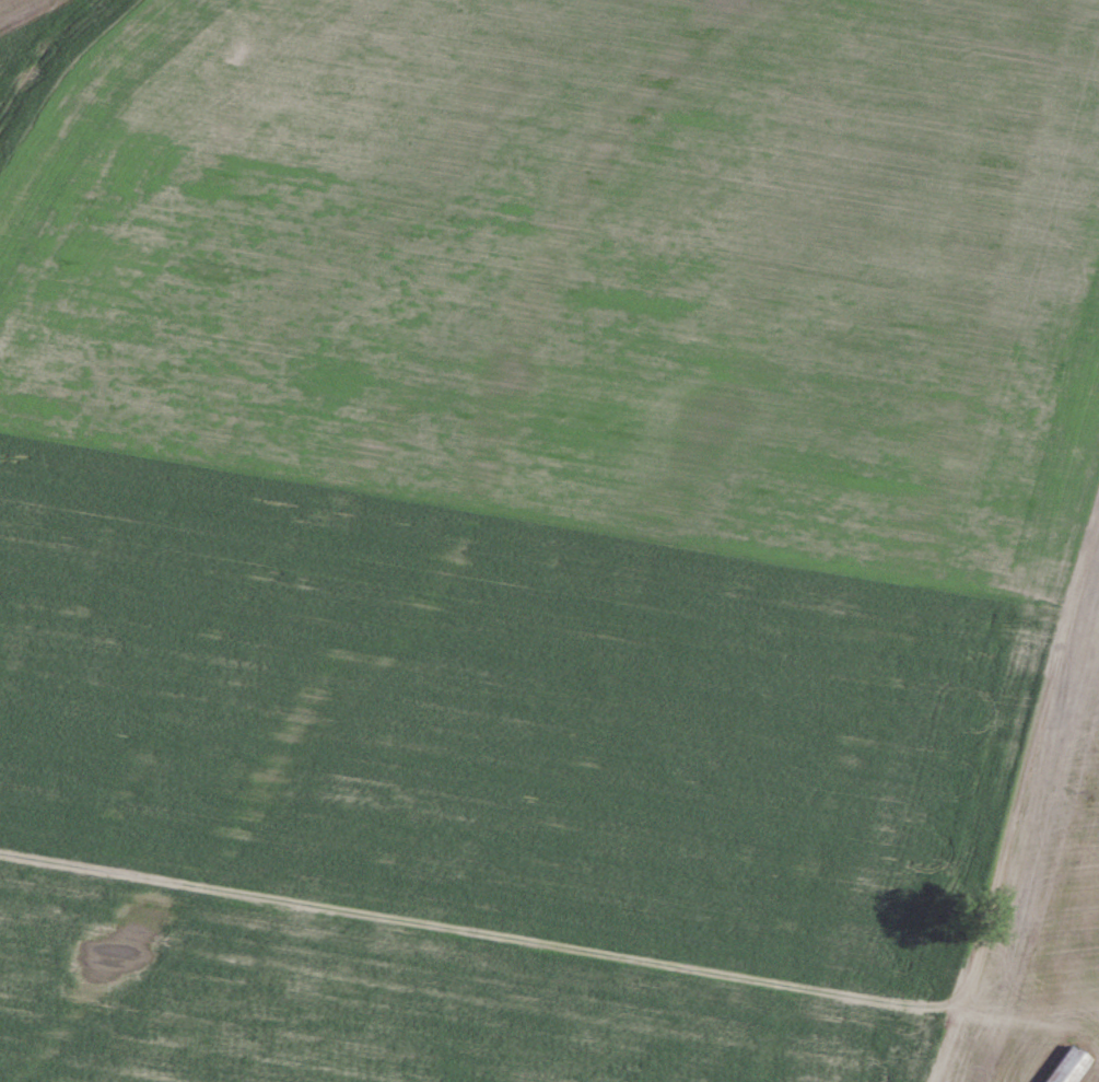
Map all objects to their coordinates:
building: (1066, 1066)

